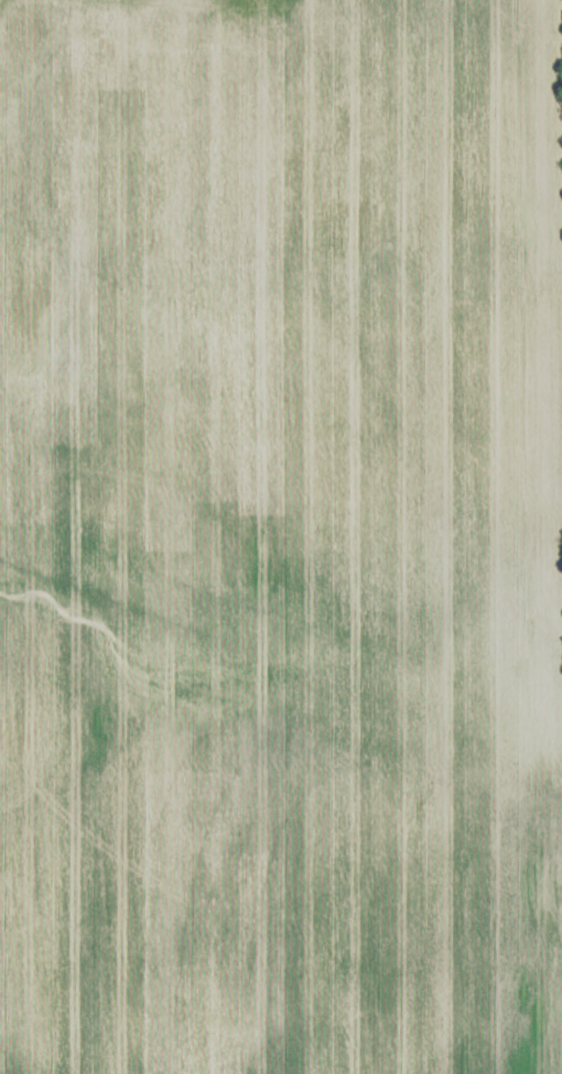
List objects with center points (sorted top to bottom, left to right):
crop: (280, 537)

